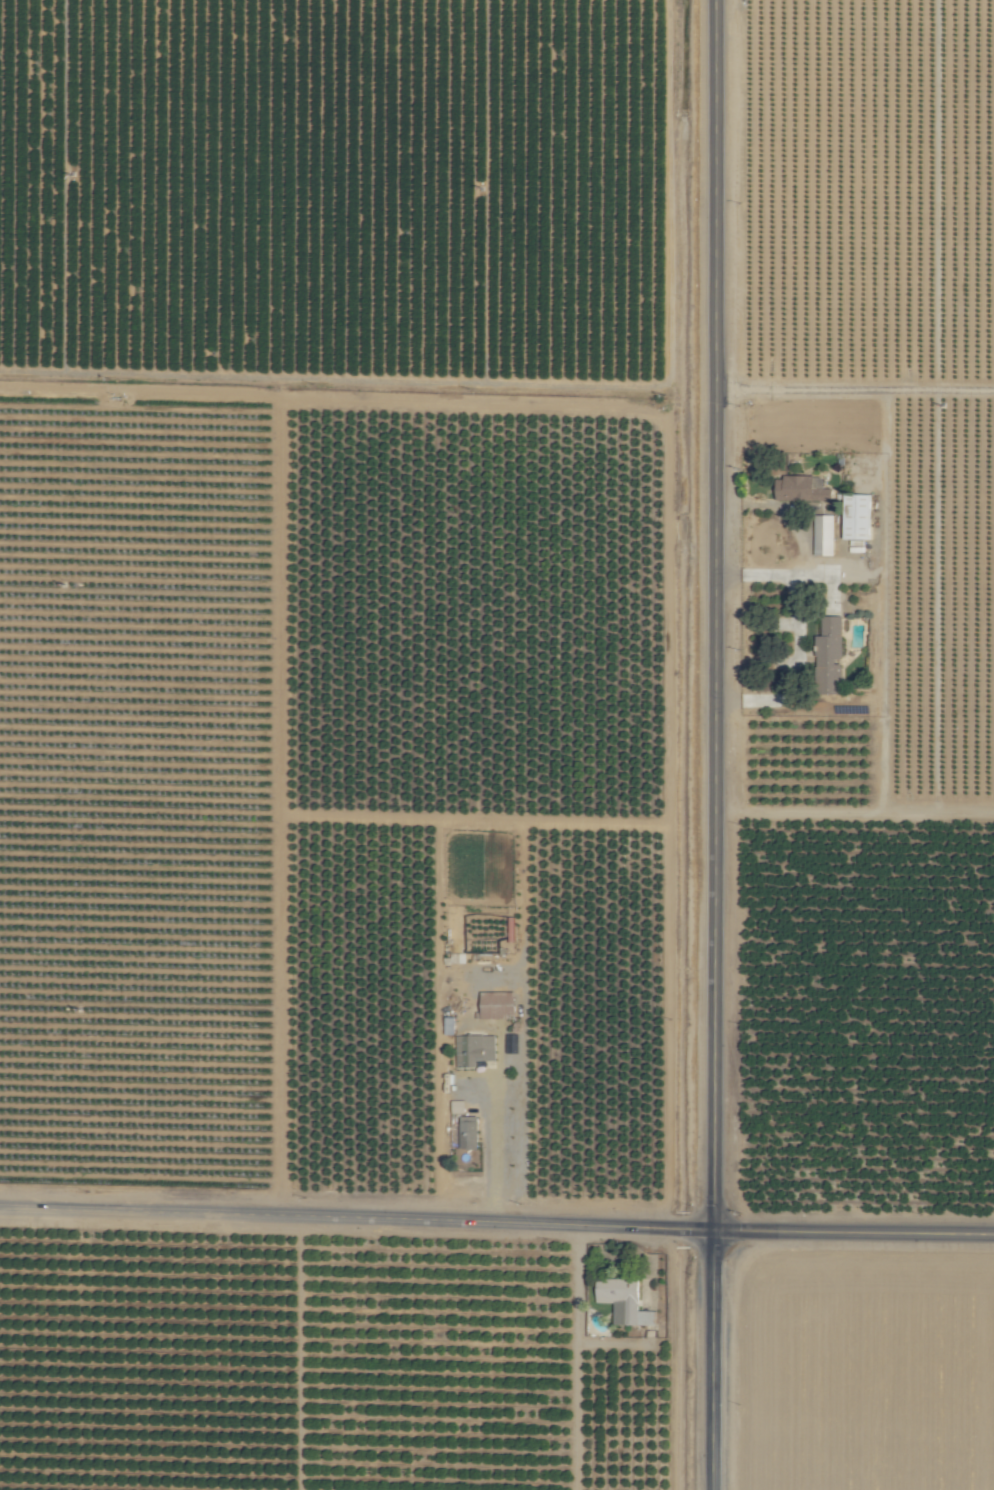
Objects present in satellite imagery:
road: (715, 464)
building: (803, 489)
road: (772, 508)
building: (859, 518)
building: (824, 535)
road: (800, 639)
building: (832, 654)
crop: (497, 745)
building: (499, 1004)
building: (450, 1025)
building: (476, 1049)
road: (712, 1078)
building: (459, 1107)
building: (470, 1132)
road: (493, 1132)
street lamp: (739, 1213)
road: (497, 1224)
building: (625, 1301)
road: (576, 1320)
road: (712, 1360)

